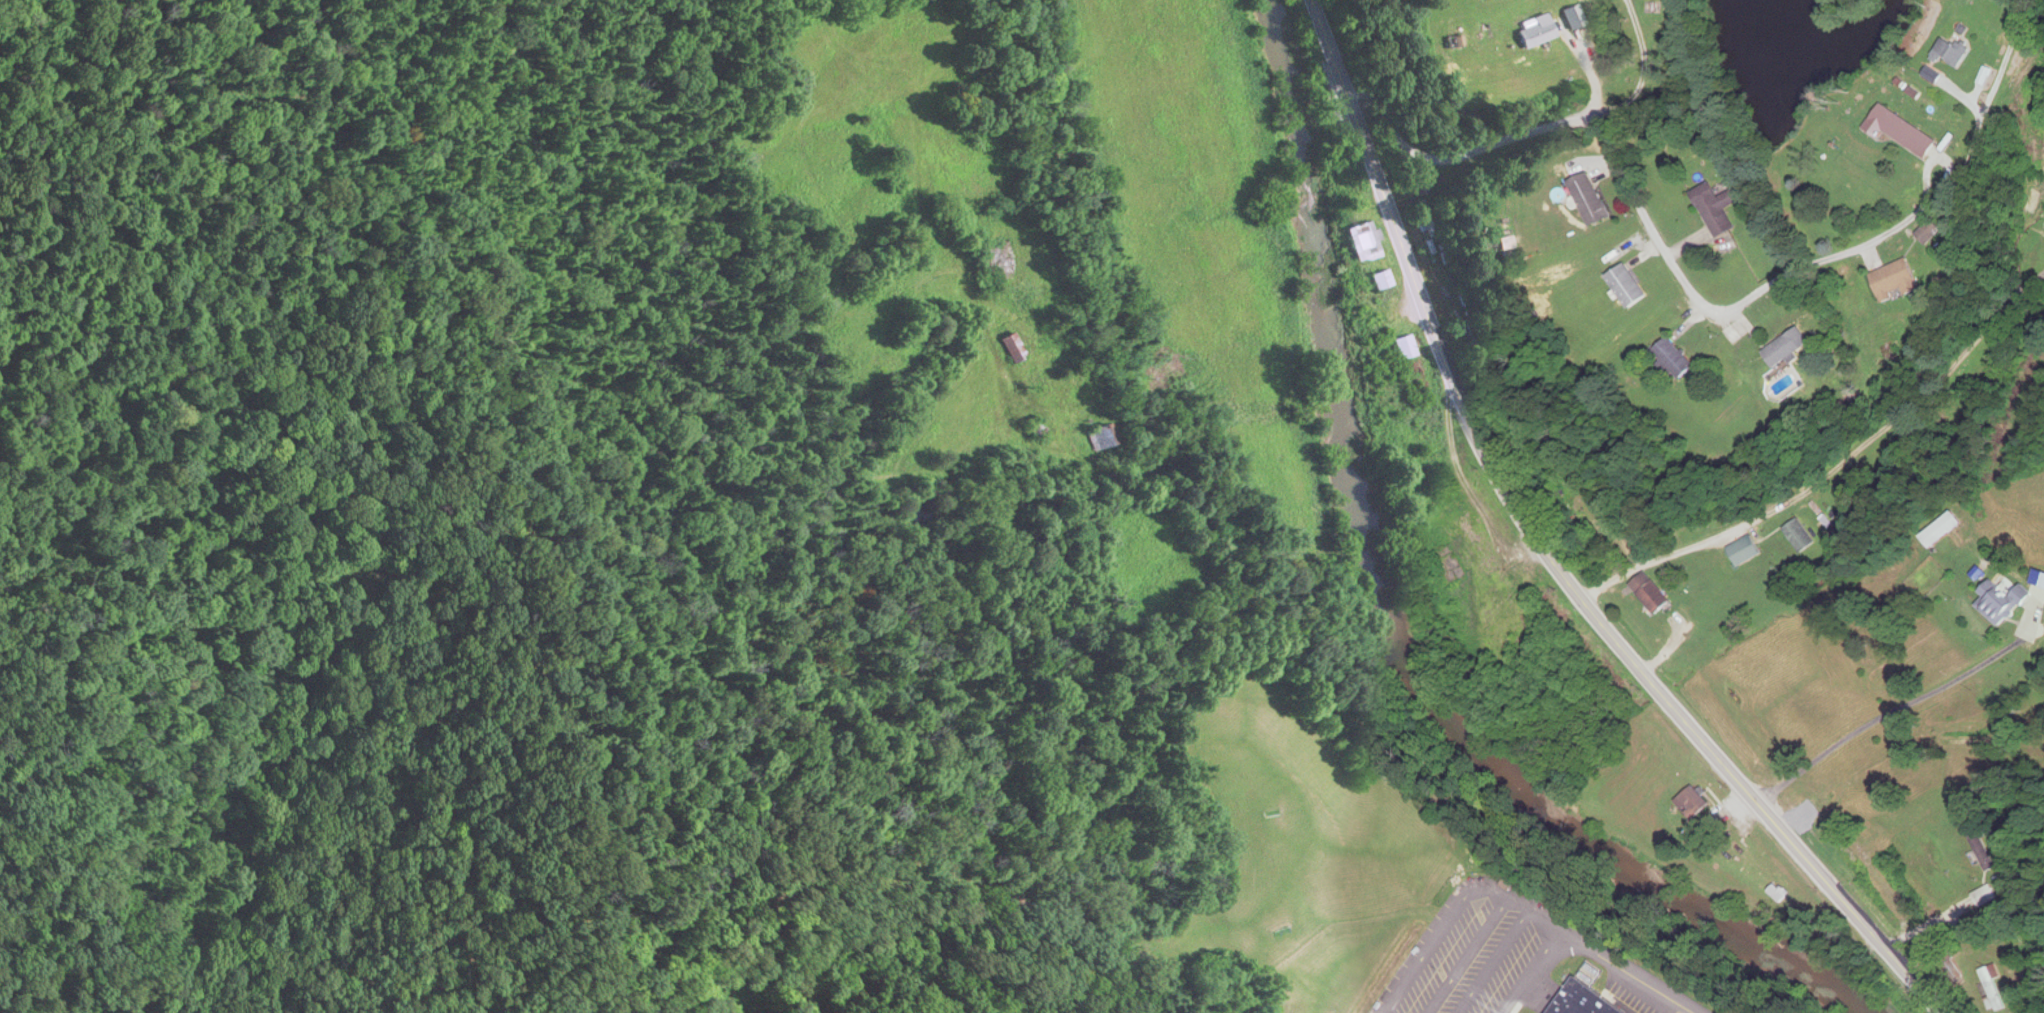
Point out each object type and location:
building: (1538, 33)
building: (1904, 132)
building: (1593, 200)
building: (1721, 208)
building: (1425, 219)
road: (1650, 224)
building: (1366, 242)
building: (1382, 280)
building: (1900, 281)
building: (1630, 287)
building: (1406, 347)
building: (1016, 348)
building: (1790, 348)
building: (1678, 359)
building: (1038, 429)
road: (1818, 429)
building: (1104, 438)
road: (1918, 465)
building: (1944, 530)
building: (1802, 537)
road: (1898, 541)
road: (1552, 550)
building: (1747, 552)
building: (1653, 594)
building: (2005, 603)
river: (1403, 612)
road: (1888, 696)
building: (1697, 806)
building: (1757, 865)
building: (1781, 895)
building: (1994, 988)
building: (1582, 1001)

